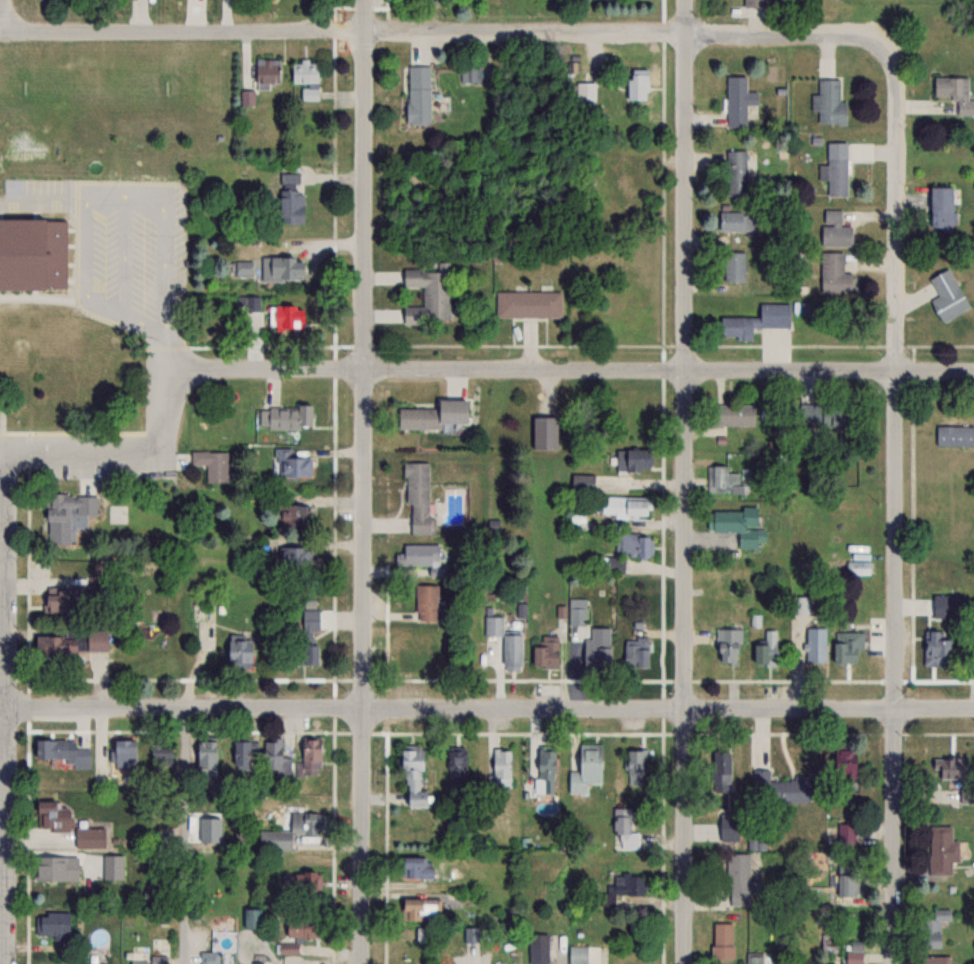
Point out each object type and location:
building: (753, 3)
road: (4, 14)
road: (440, 30)
building: (266, 72)
building: (305, 78)
building: (636, 84)
building: (584, 92)
building: (955, 93)
building: (416, 94)
building: (247, 98)
building: (737, 102)
building: (829, 102)
building: (607, 164)
building: (835, 170)
building: (735, 173)
building: (628, 183)
road: (98, 190)
building: (290, 207)
building: (940, 208)
building: (735, 221)
building: (834, 230)
building: (32, 254)
building: (734, 267)
building: (243, 268)
building: (280, 269)
building: (833, 274)
building: (426, 294)
building: (946, 296)
building: (248, 303)
building: (527, 303)
building: (285, 317)
building: (754, 322)
road: (172, 354)
road: (458, 369)
building: (817, 414)
building: (431, 415)
building: (731, 415)
building: (284, 417)
building: (954, 436)
building: (631, 460)
building: (212, 464)
building: (290, 464)
road: (364, 481)
building: (724, 481)
building: (581, 482)
road: (686, 482)
building: (417, 496)
road: (897, 503)
building: (68, 506)
building: (623, 507)
building: (291, 515)
building: (737, 526)
building: (632, 546)
building: (419, 554)
building: (292, 557)
building: (857, 568)
building: (60, 601)
building: (425, 602)
building: (946, 606)
building: (199, 612)
building: (576, 617)
building: (307, 637)
building: (93, 641)
building: (504, 641)
building: (937, 645)
building: (727, 646)
building: (815, 646)
building: (847, 646)
building: (237, 650)
building: (765, 650)
building: (417, 651)
building: (635, 652)
building: (544, 653)
building: (595, 653)
road: (2, 707)
road: (486, 712)
building: (59, 753)
building: (310, 753)
building: (273, 754)
building: (124, 755)
building: (205, 755)
building: (242, 755)
building: (161, 757)
building: (457, 763)
building: (501, 763)
building: (634, 763)
building: (843, 764)
building: (586, 768)
building: (945, 769)
building: (719, 772)
building: (544, 773)
building: (414, 778)
building: (776, 789)
building: (51, 816)
building: (730, 827)
building: (624, 830)
building: (846, 835)
road: (181, 837)
building: (88, 838)
building: (274, 840)
building: (941, 851)
building: (112, 868)
building: (416, 868)
building: (55, 871)
building: (737, 880)
building: (301, 884)
building: (845, 886)
building: (625, 887)
building: (420, 909)
building: (252, 919)
building: (53, 925)
building: (932, 929)
building: (294, 935)
building: (721, 941)
building: (829, 943)
building: (537, 949)
building: (853, 953)
building: (577, 955)
building: (208, 958)
building: (753, 958)
building: (934, 960)
building: (144, 961)
building: (253, 963)

